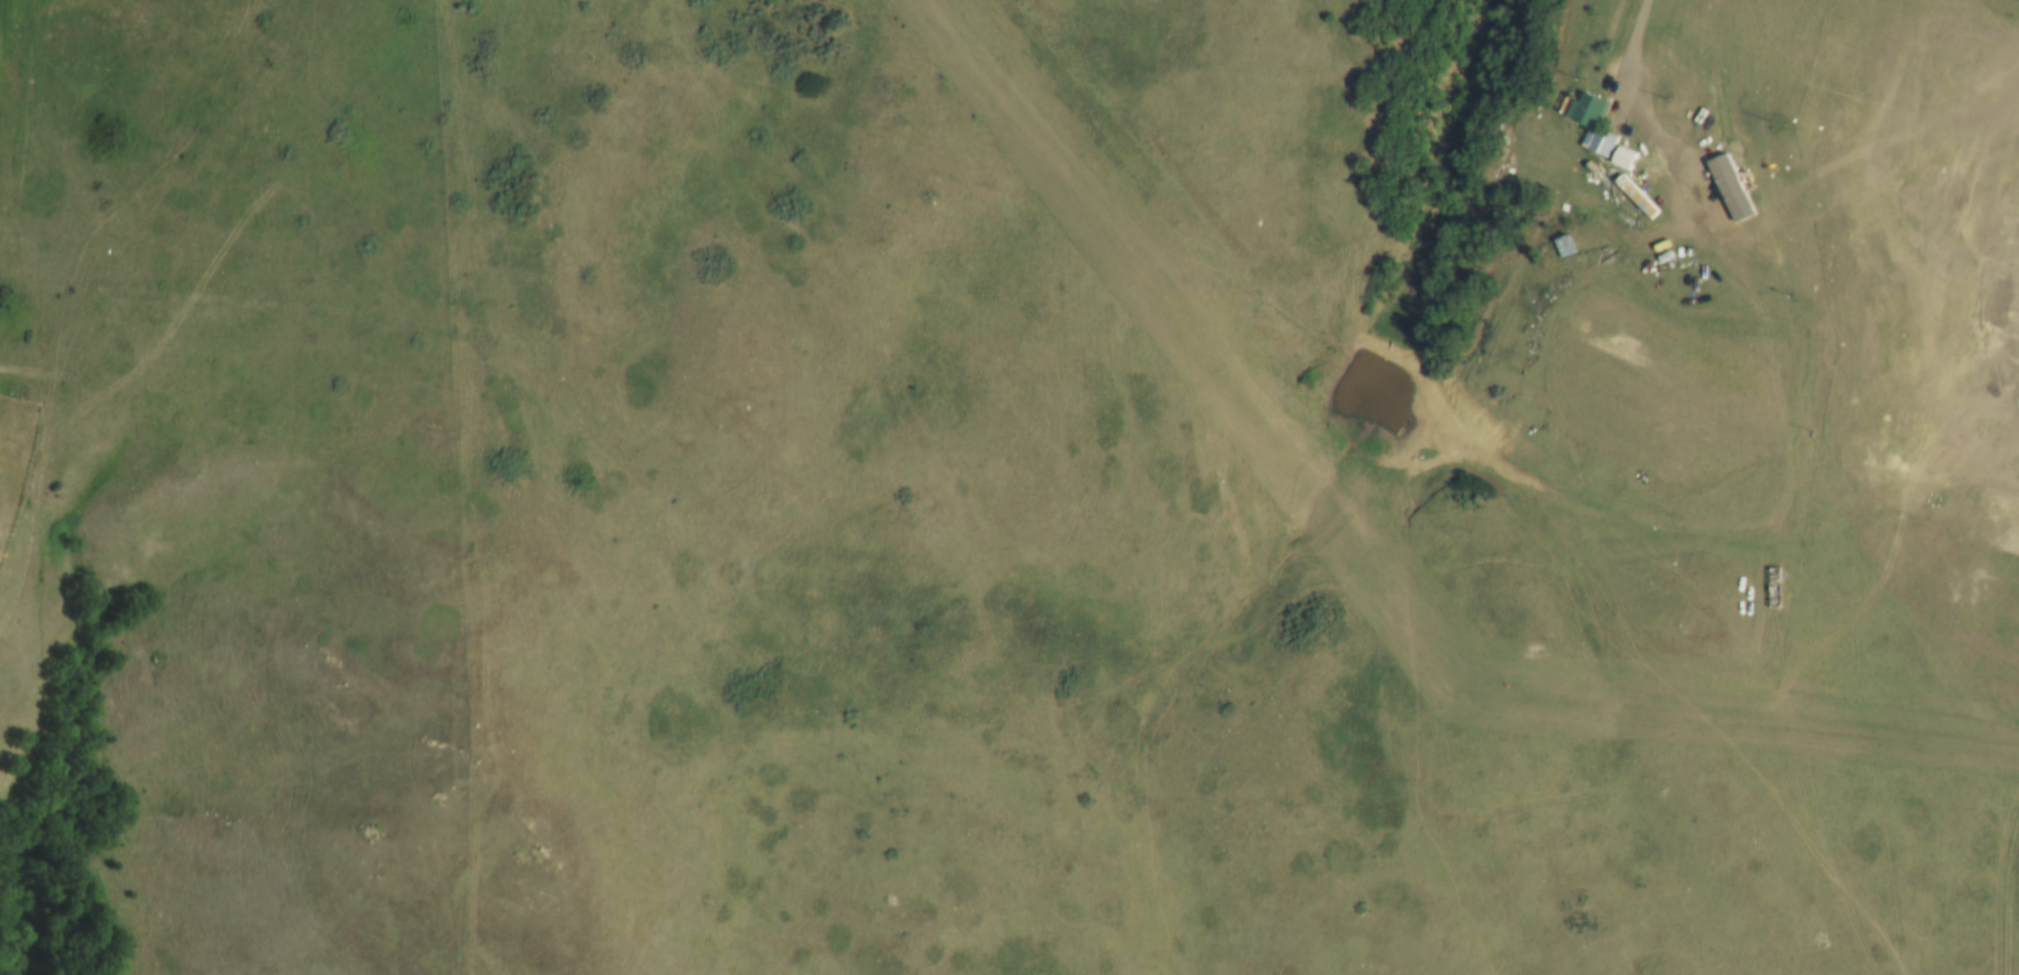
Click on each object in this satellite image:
road: (1627, 101)
building: (1585, 107)
building: (1598, 139)
building: (1623, 155)
building: (1562, 242)
building: (1773, 584)

